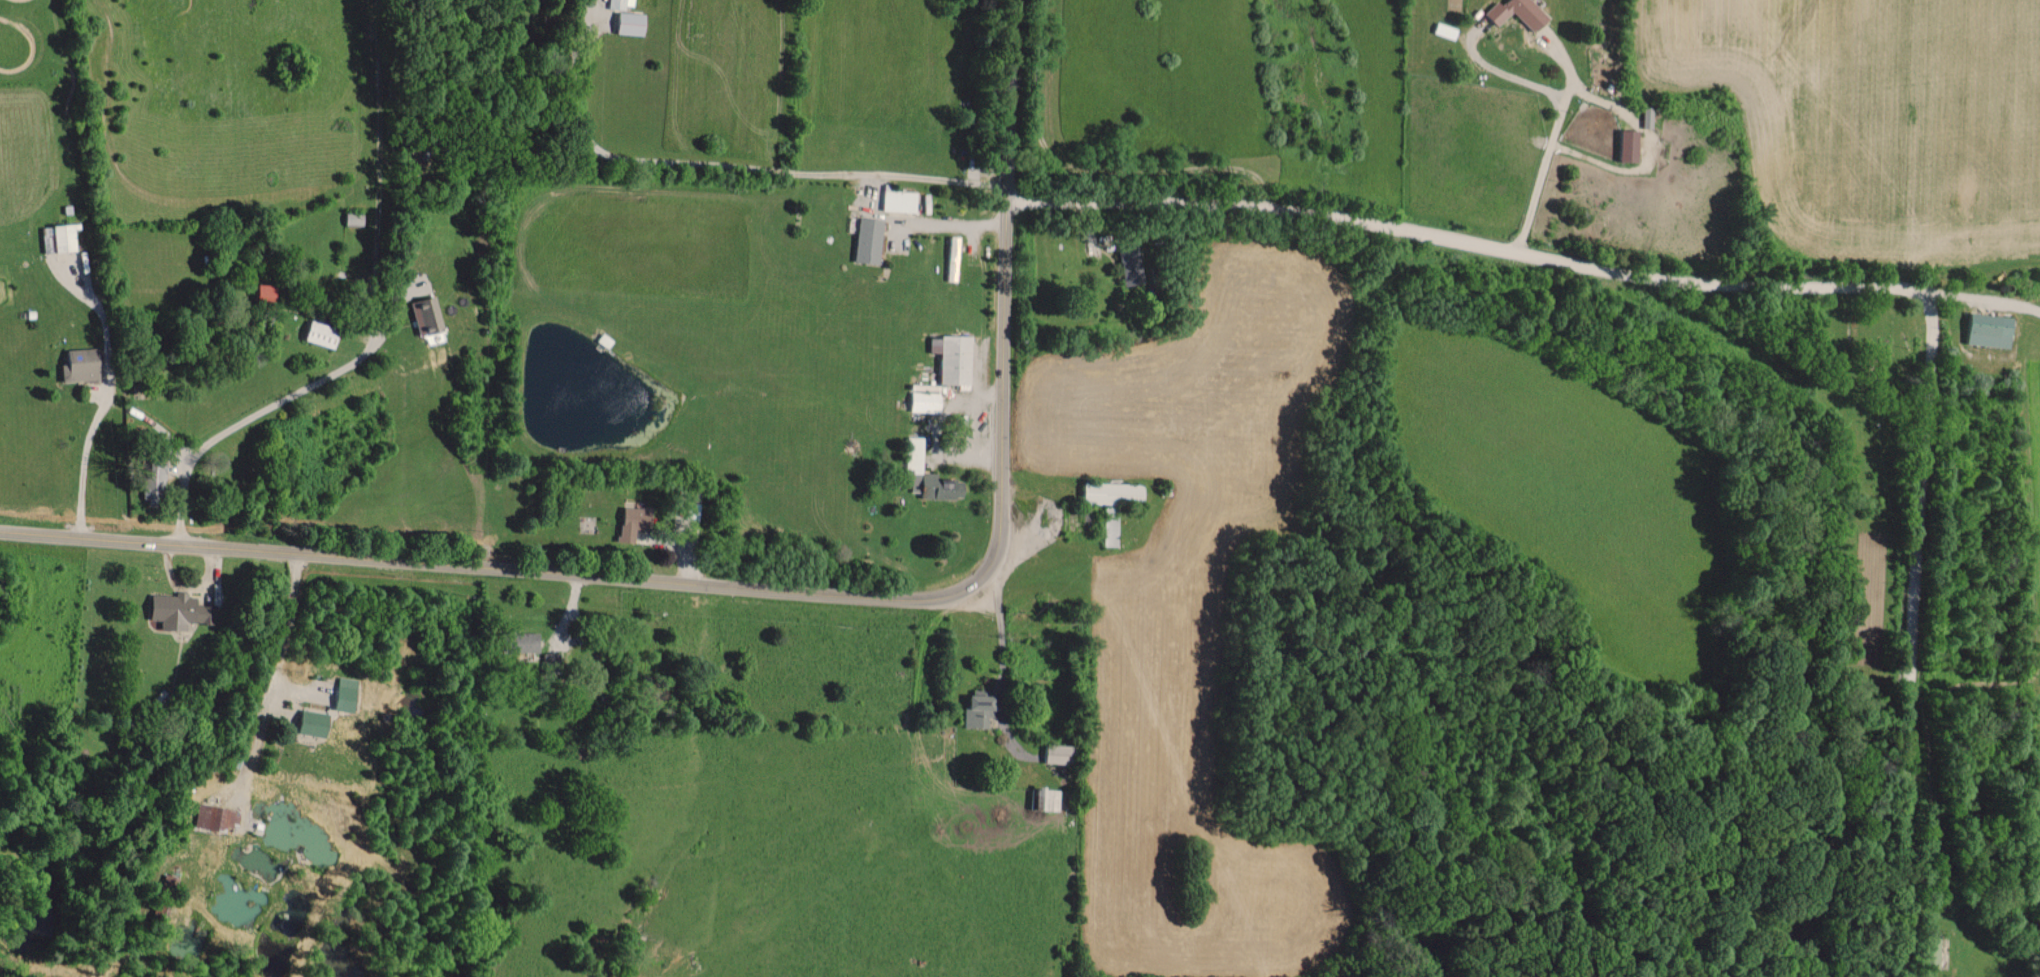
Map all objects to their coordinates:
building: (619, 3)
building: (1512, 12)
building: (626, 22)
road: (1549, 144)
building: (1623, 144)
building: (896, 200)
building: (61, 236)
building: (864, 240)
road: (1463, 241)
building: (950, 257)
road: (1003, 291)
building: (257, 292)
road: (1979, 298)
building: (422, 315)
building: (1984, 329)
building: (316, 333)
building: (951, 360)
building: (74, 364)
building: (922, 397)
road: (258, 411)
road: (94, 421)
building: (925, 474)
building: (150, 480)
building: (1107, 502)
building: (689, 514)
building: (626, 522)
road: (492, 570)
building: (171, 610)
road: (1911, 635)
building: (517, 641)
road: (276, 669)
building: (341, 693)
building: (975, 709)
building: (308, 722)
building: (1054, 753)
building: (213, 816)
building: (1930, 949)

